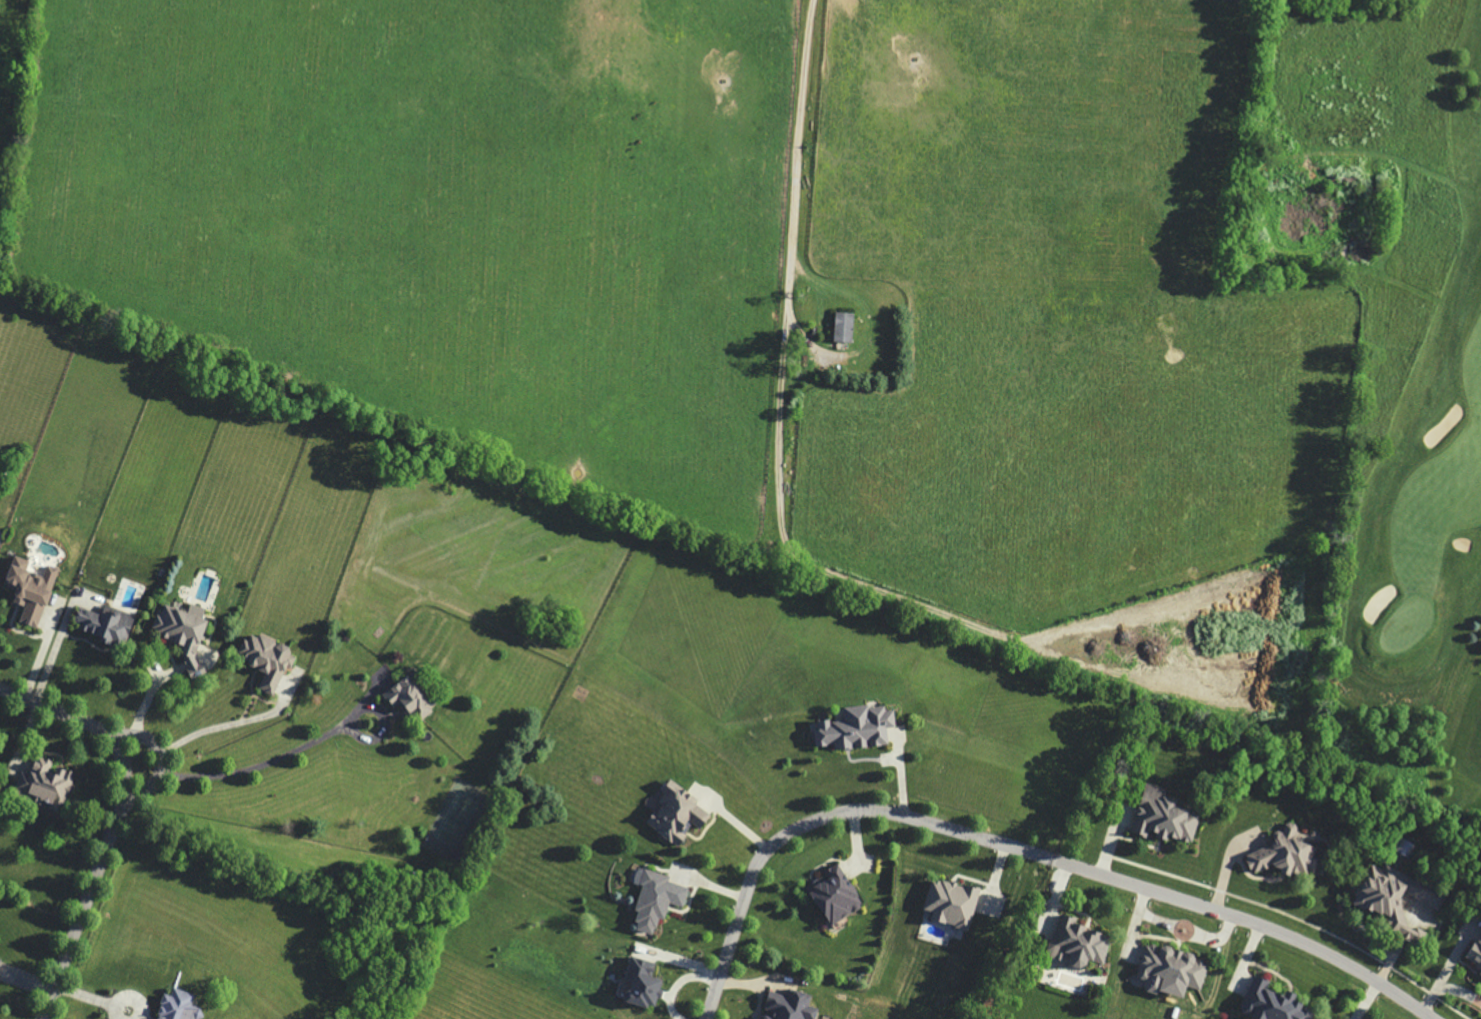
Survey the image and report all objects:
road: (796, 183)
building: (843, 327)
park: (1416, 387)
building: (26, 590)
building: (100, 626)
building: (178, 628)
road: (52, 656)
building: (409, 700)
road: (230, 724)
building: (854, 729)
road: (161, 761)
road: (272, 762)
building: (52, 783)
building: (673, 815)
building: (1162, 818)
road: (115, 822)
road: (1019, 848)
building: (1277, 855)
building: (831, 896)
building: (652, 900)
building: (1392, 900)
building: (1075, 942)
building: (1473, 957)
building: (1, 965)
building: (1167, 969)
building: (648, 983)
building: (1268, 1003)
building: (183, 1006)
building: (795, 1006)

